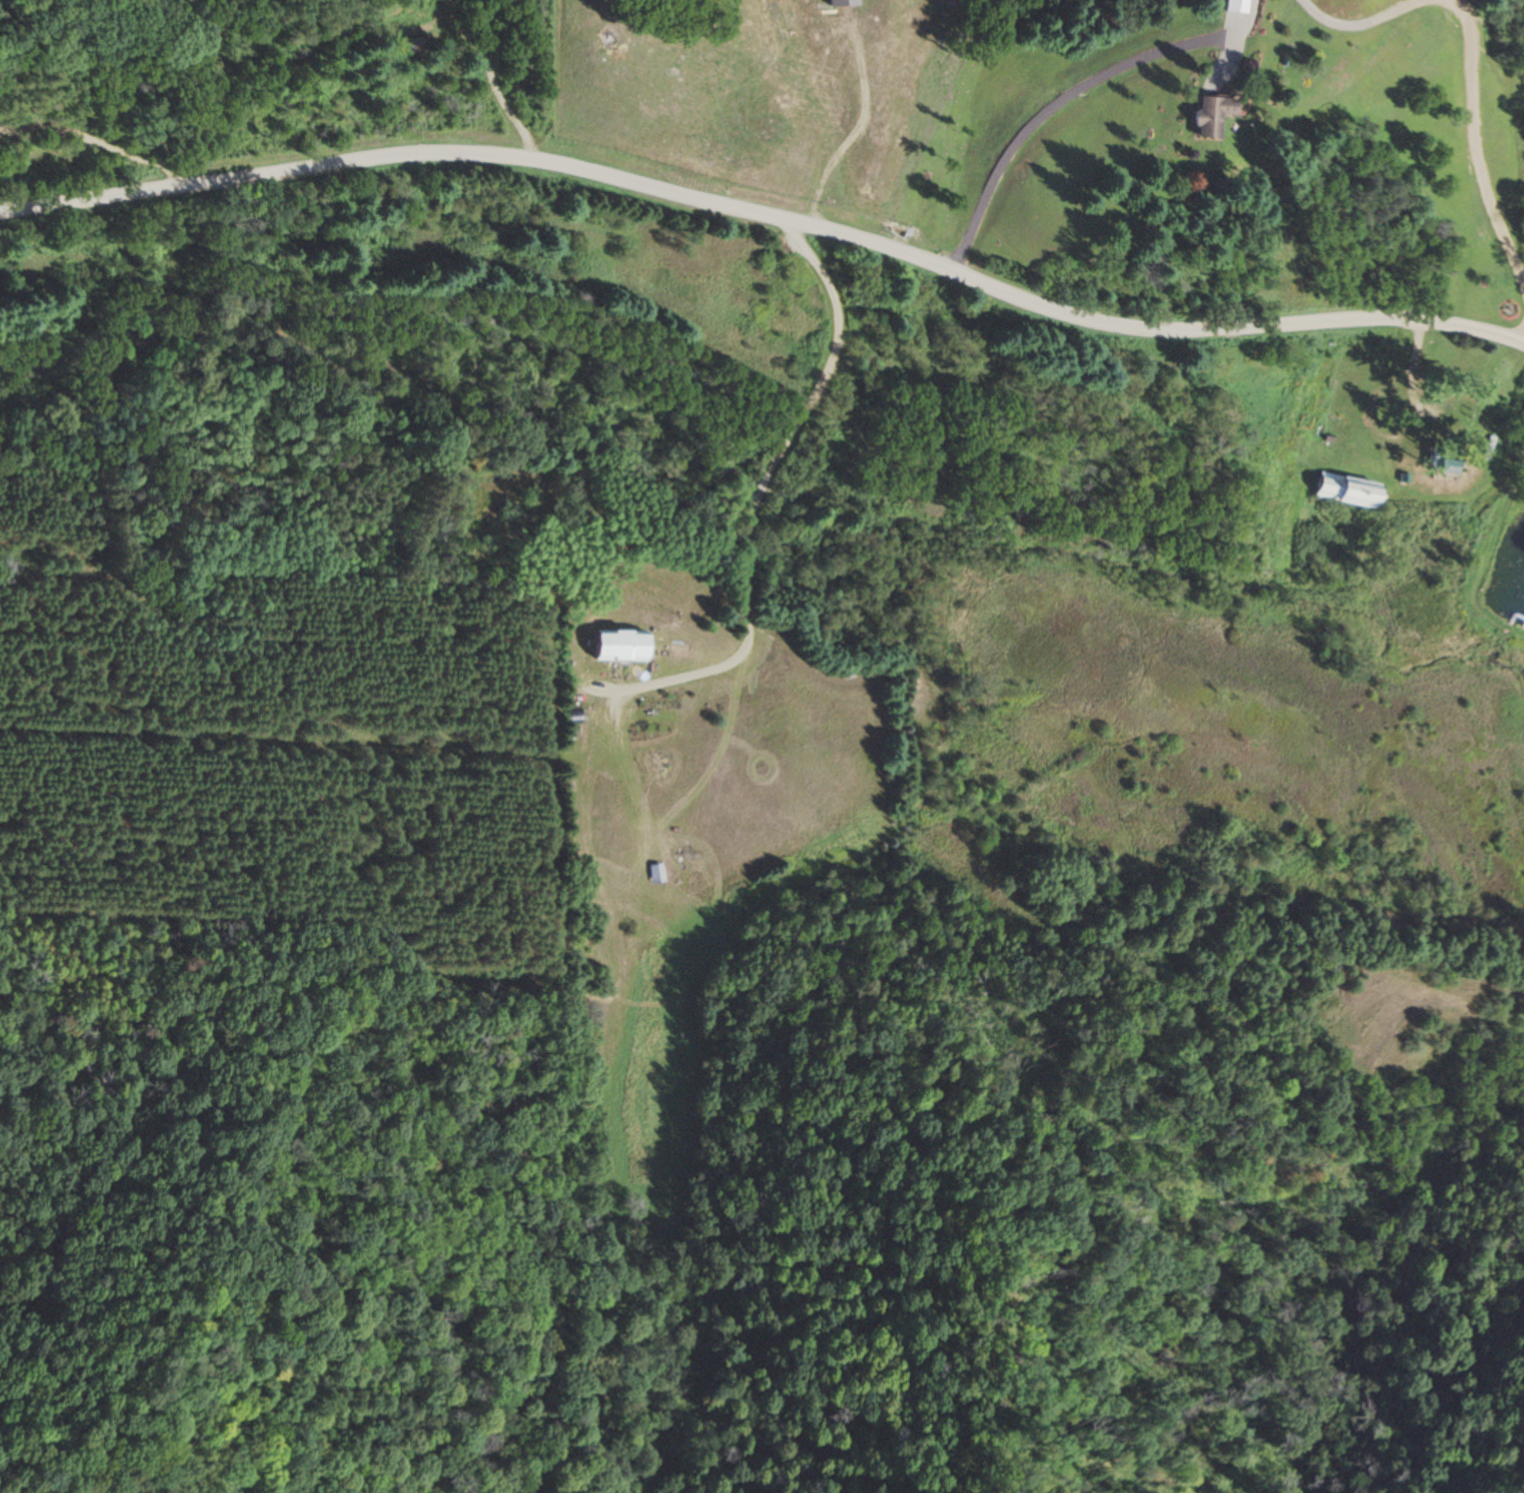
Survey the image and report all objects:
building: (1238, 6)
building: (1215, 116)
road: (772, 206)
building: (1447, 463)
building: (1350, 491)
building: (621, 646)
building: (656, 873)

